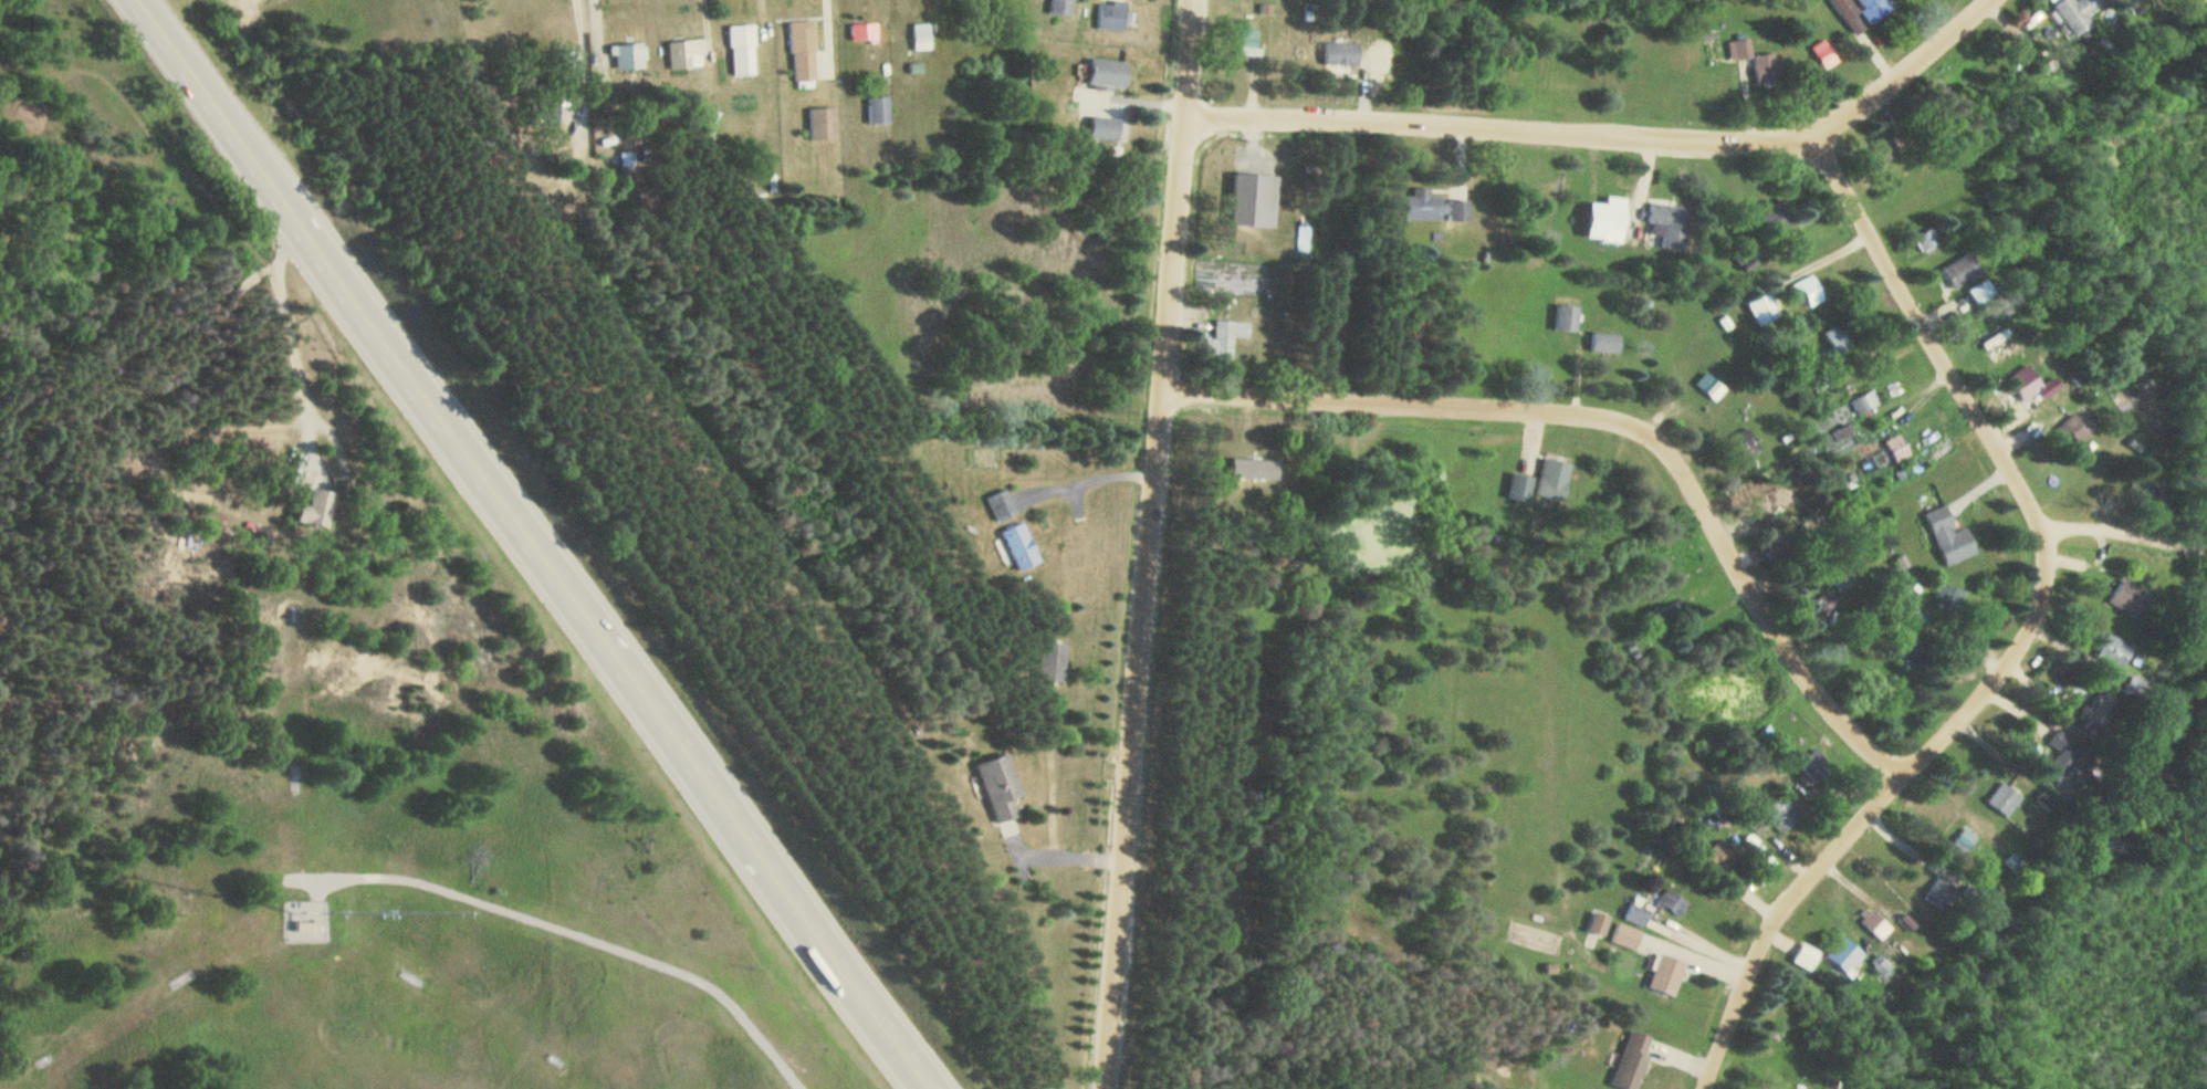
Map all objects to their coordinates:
building: (1875, 8)
building: (1090, 9)
building: (2078, 13)
building: (1849, 15)
building: (864, 33)
building: (922, 35)
building: (743, 50)
building: (804, 51)
building: (1340, 53)
building: (1824, 53)
building: (686, 54)
building: (628, 56)
building: (1756, 61)
building: (1109, 74)
building: (878, 111)
building: (822, 124)
building: (1107, 128)
road: (1614, 135)
building: (1433, 207)
building: (1777, 217)
building: (1609, 223)
building: (1666, 227)
building: (1929, 240)
building: (1962, 271)
building: (1810, 289)
building: (1975, 297)
building: (1765, 310)
building: (1566, 318)
building: (1985, 332)
building: (1225, 339)
building: (1604, 342)
building: (1834, 342)
building: (1708, 385)
building: (2033, 385)
building: (1864, 401)
road: (1624, 418)
building: (2080, 433)
building: (1747, 442)
building: (1897, 448)
building: (1256, 469)
building: (1552, 480)
building: (1519, 486)
building: (1002, 505)
building: (318, 512)
building: (1939, 536)
road: (537, 544)
road: (1153, 544)
building: (1021, 546)
road: (2123, 546)
building: (1943, 595)
building: (2117, 595)
building: (1910, 616)
road: (2028, 636)
building: (2104, 650)
building: (1054, 661)
building: (2125, 688)
building: (1889, 692)
building: (1811, 762)
building: (2056, 762)
building: (1000, 787)
building: (1998, 798)
building: (1779, 819)
building: (1941, 892)
building: (1635, 914)
building: (1880, 925)
road: (569, 934)
building: (1847, 953)
building: (1891, 954)
building: (1806, 955)
building: (1881, 965)
building: (1667, 975)
building: (1632, 1060)

